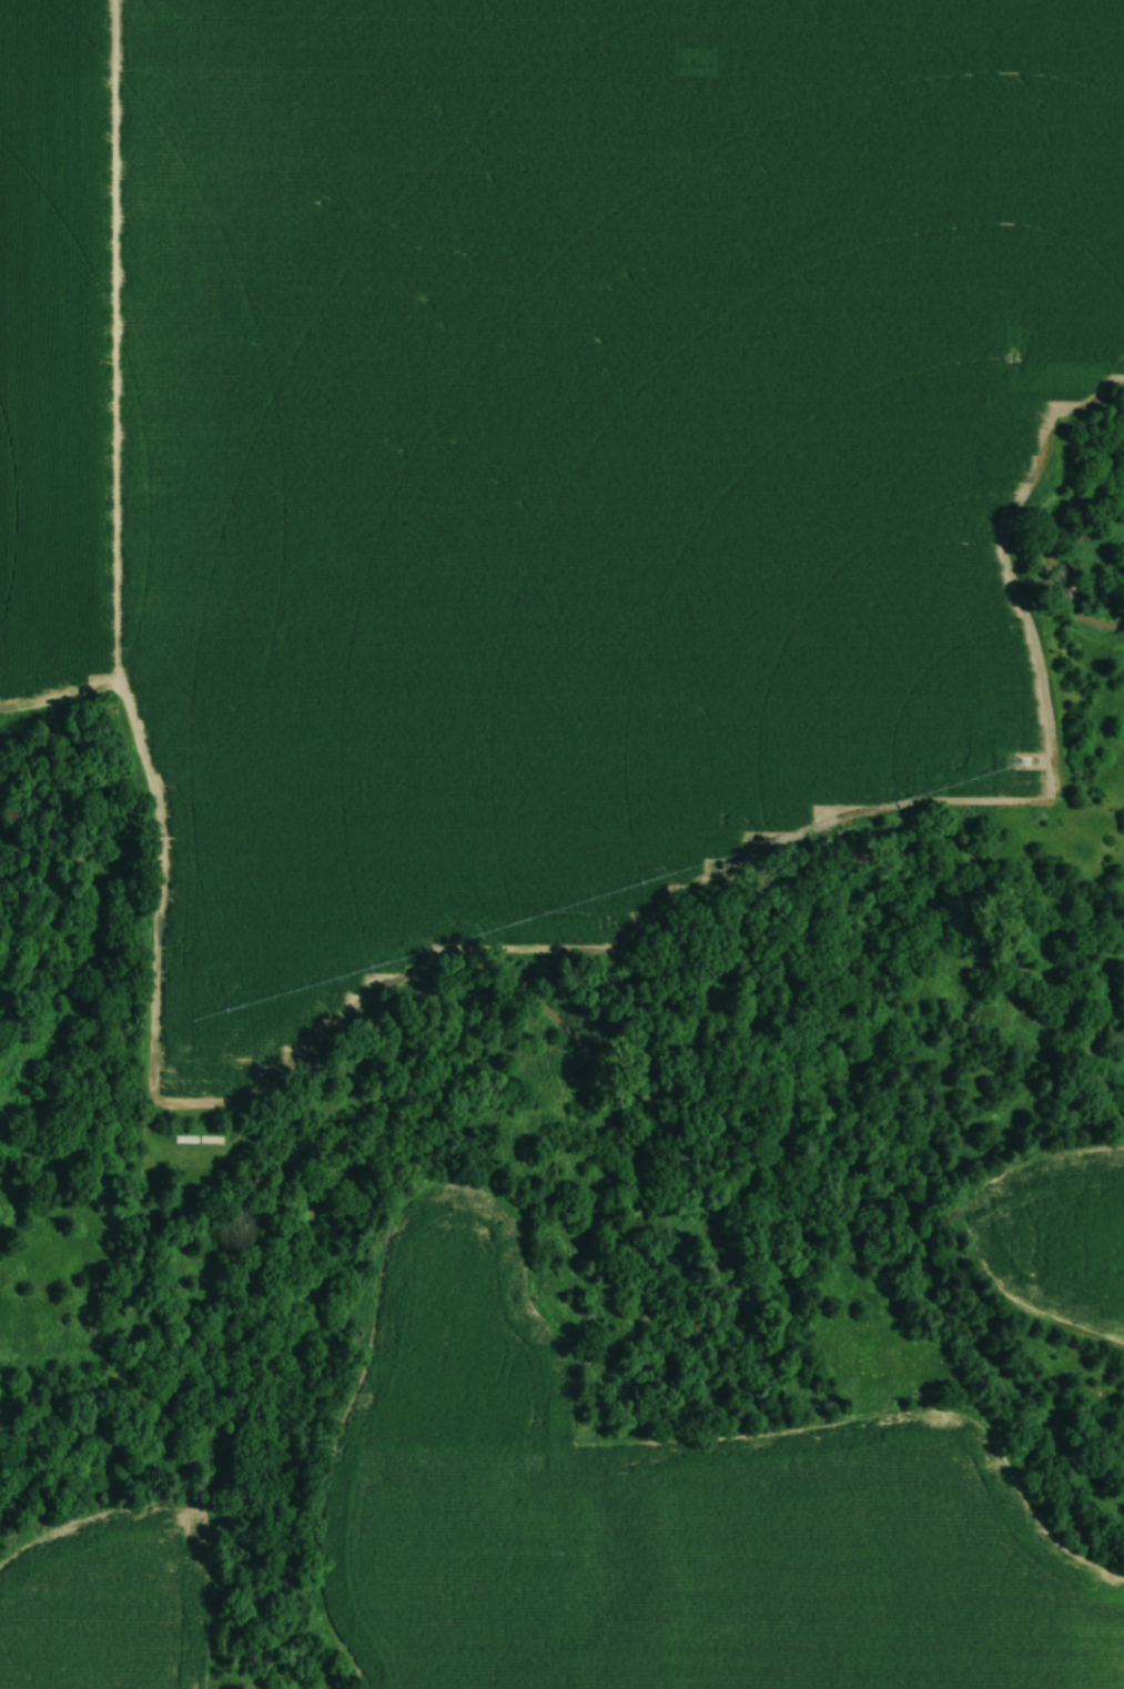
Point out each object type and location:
crop: (54, 334)
crop: (581, 442)

